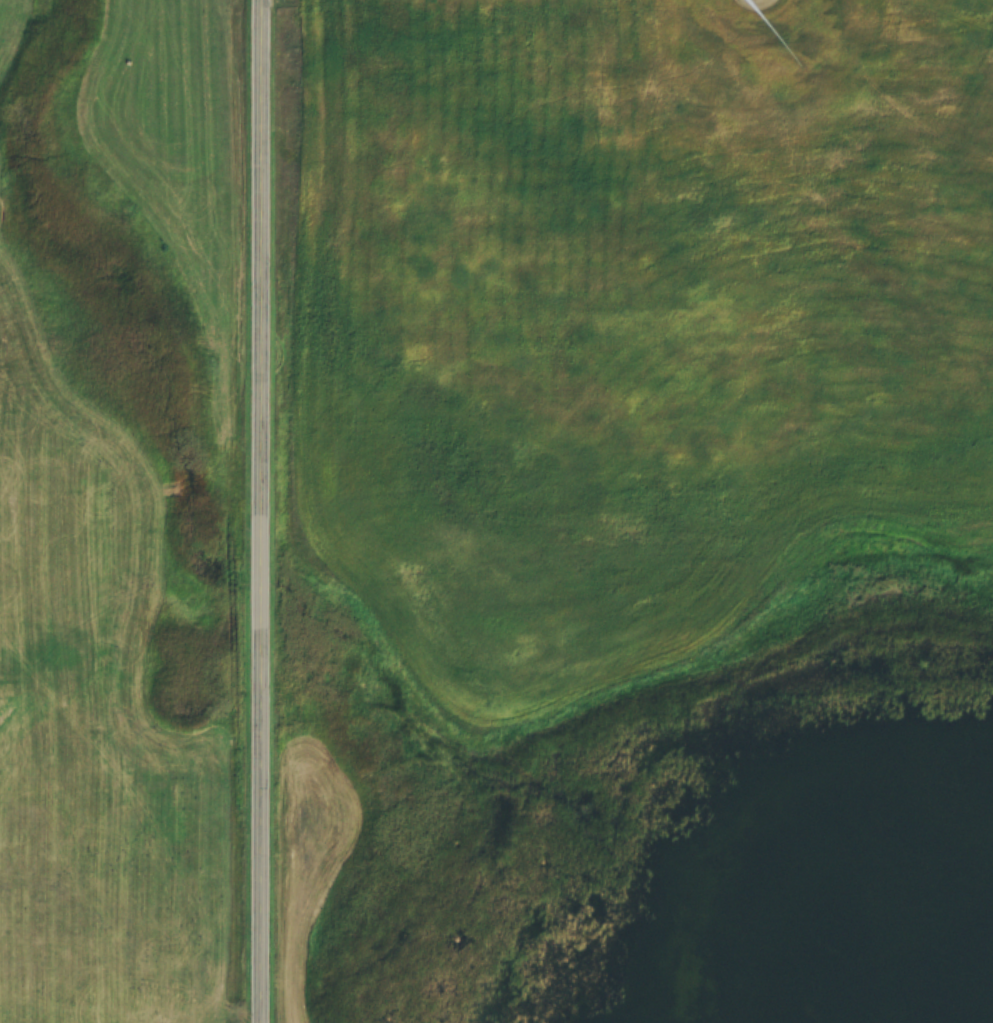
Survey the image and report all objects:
road: (259, 511)

